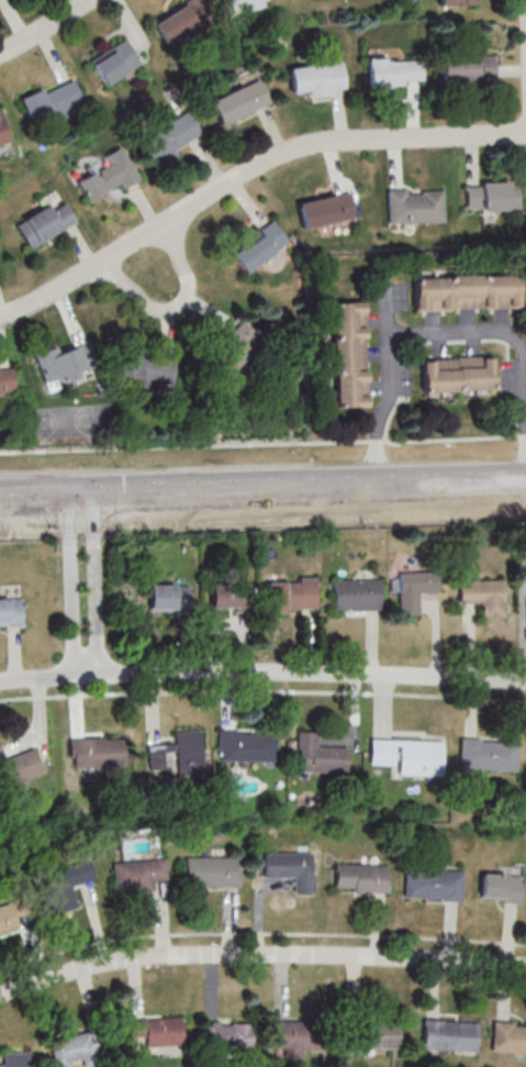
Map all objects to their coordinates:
building: (457, 2)
building: (243, 3)
building: (184, 19)
road: (49, 30)
building: (469, 68)
building: (115, 71)
building: (395, 71)
building: (317, 78)
building: (240, 100)
building: (172, 135)
building: (5, 137)
road: (246, 173)
building: (491, 196)
building: (416, 207)
building: (327, 209)
building: (44, 229)
building: (467, 292)
road: (175, 304)
road: (391, 338)
building: (351, 353)
building: (71, 367)
building: (459, 377)
road: (264, 443)
road: (262, 489)
traffic signals: (81, 496)
road: (94, 583)
road: (70, 585)
building: (415, 589)
building: (357, 593)
building: (231, 594)
building: (293, 594)
building: (484, 596)
building: (171, 597)
building: (10, 611)
road: (312, 673)
road: (48, 677)
building: (248, 745)
building: (97, 751)
building: (179, 754)
building: (321, 755)
building: (411, 755)
building: (489, 755)
building: (19, 769)
building: (292, 868)
building: (213, 870)
building: (123, 875)
building: (362, 877)
building: (433, 883)
building: (68, 885)
building: (500, 887)
road: (259, 955)
building: (157, 1031)
building: (226, 1033)
building: (378, 1035)
building: (450, 1035)
building: (510, 1037)
building: (294, 1038)
building: (69, 1048)
building: (13, 1059)

